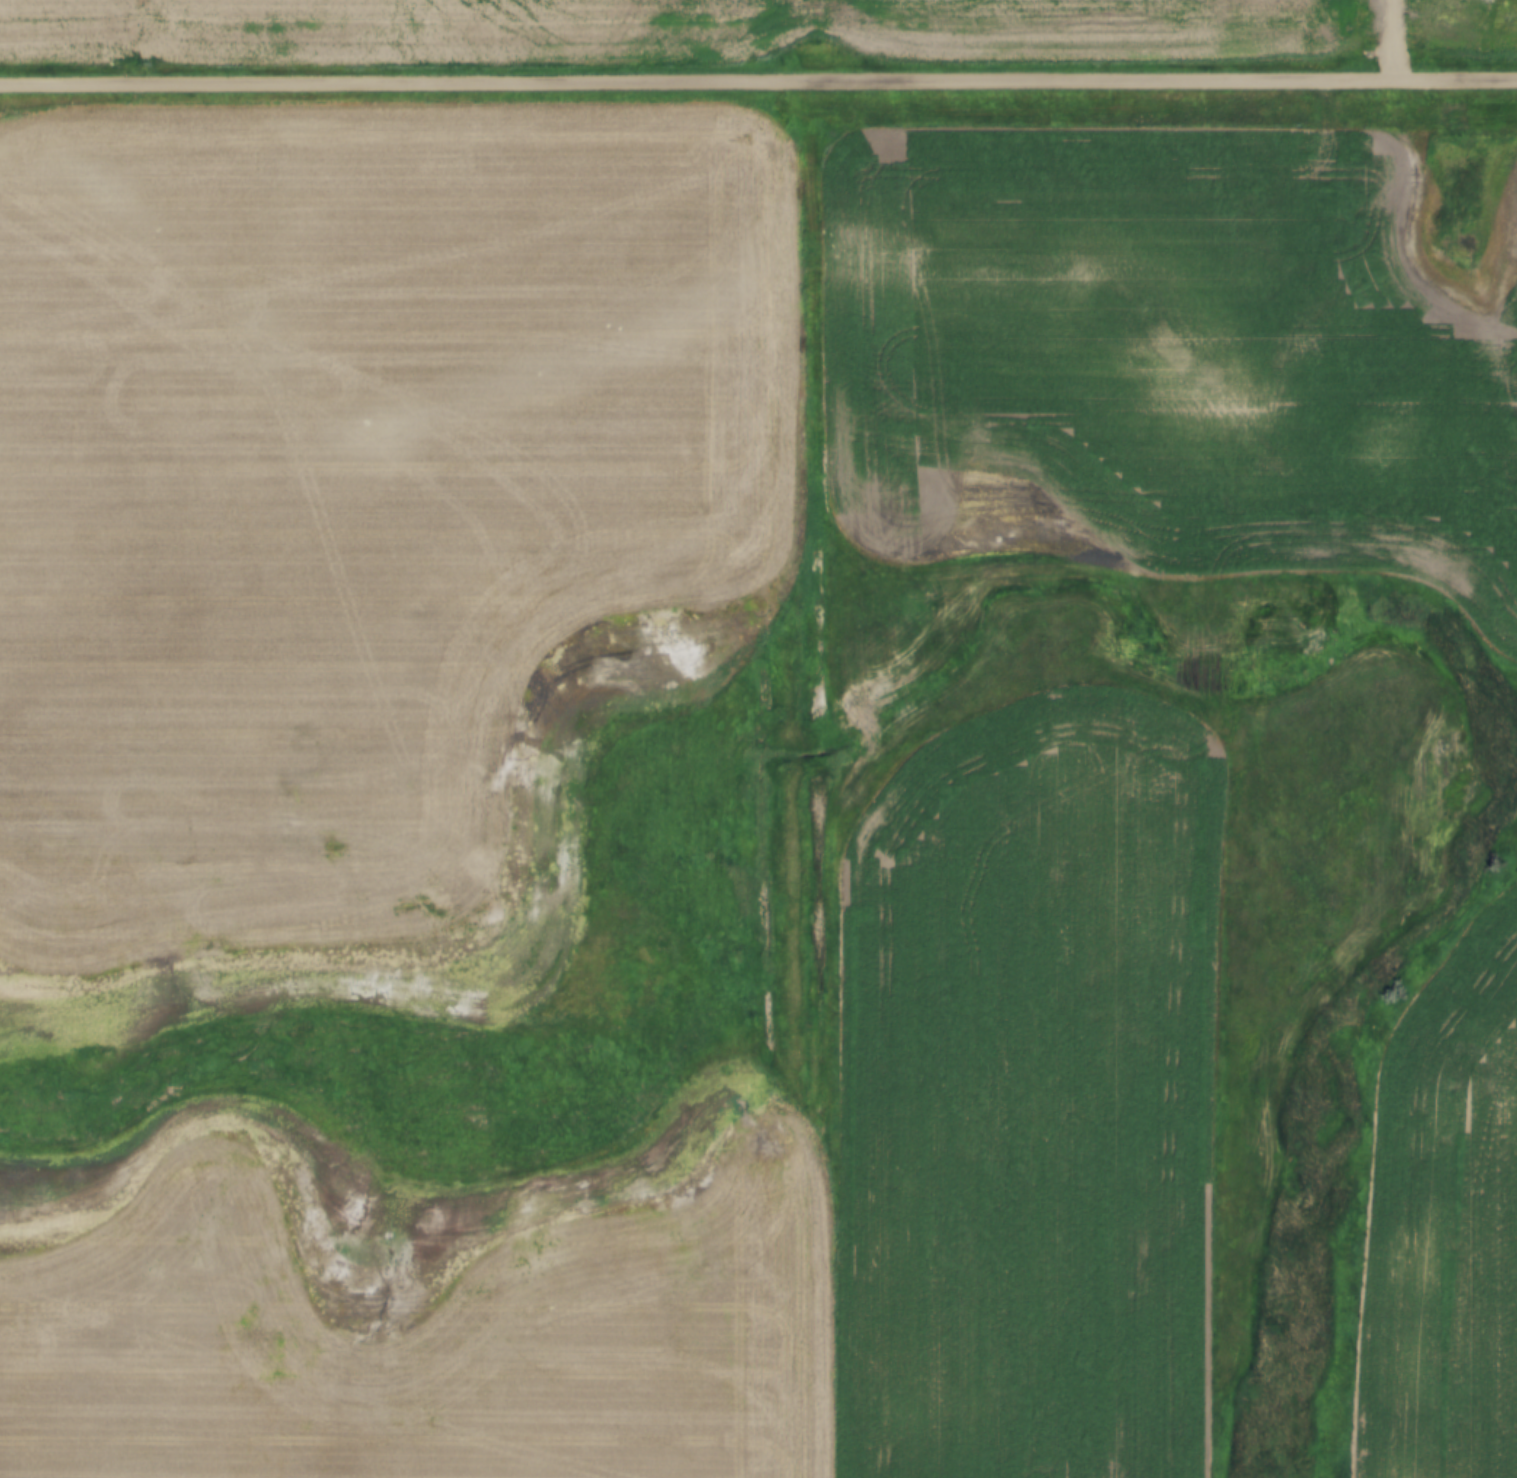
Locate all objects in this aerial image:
road: (1402, 42)
road: (758, 87)

